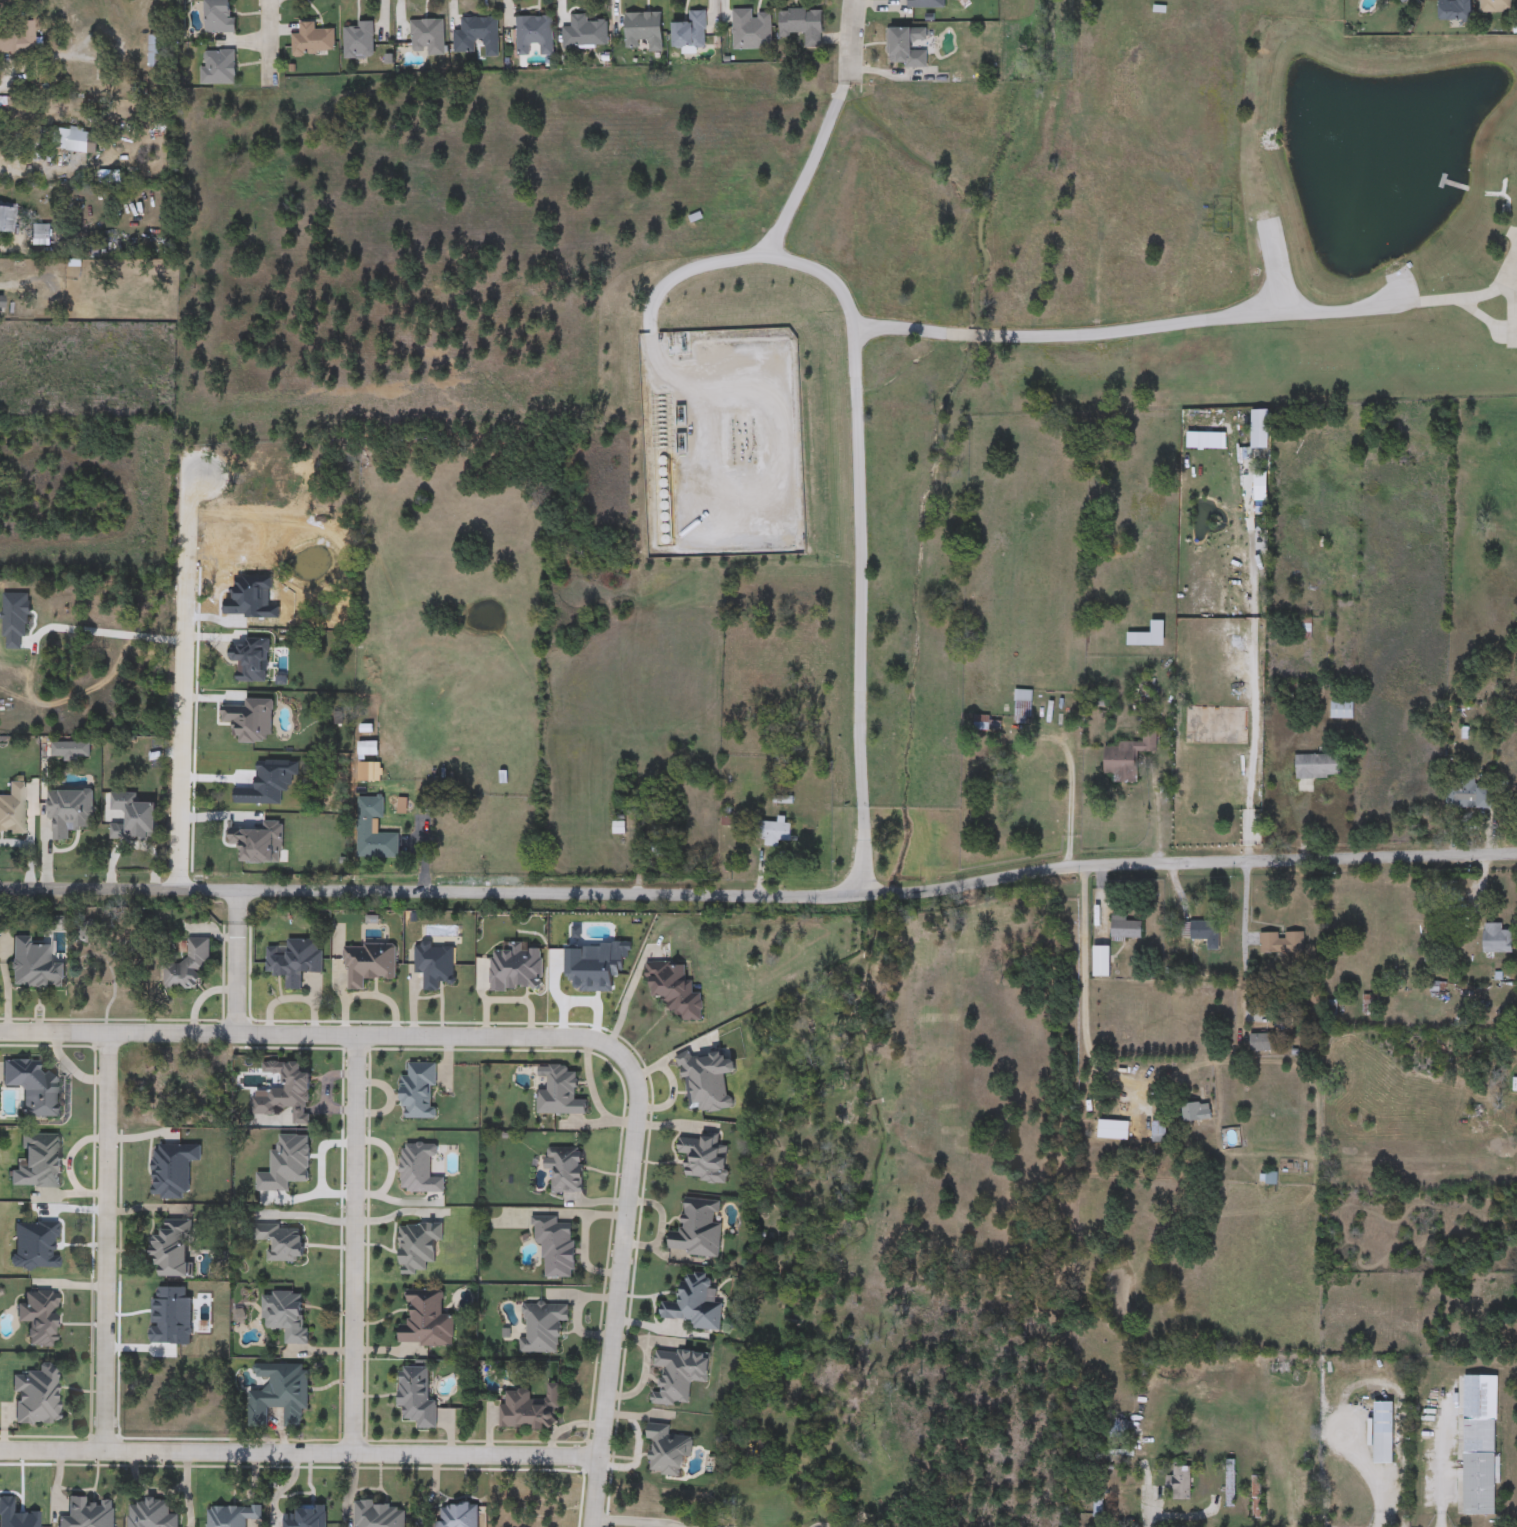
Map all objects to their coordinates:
building: (1403, 1)
building: (926, 3)
building: (1496, 6)
building: (1456, 10)
building: (219, 16)
building: (802, 25)
building: (752, 30)
building: (644, 31)
building: (691, 32)
building: (585, 33)
road: (273, 34)
building: (478, 36)
building: (534, 36)
road: (849, 36)
building: (428, 37)
building: (18, 39)
building: (312, 40)
building: (358, 40)
building: (906, 46)
building: (219, 68)
road: (5, 77)
building: (74, 141)
road: (22, 172)
building: (6, 218)
building: (40, 234)
road: (10, 246)
road: (659, 290)
building: (1, 303)
road: (1296, 315)
road: (905, 332)
road: (973, 336)
building: (683, 354)
road: (852, 452)
building: (1501, 535)
building: (1303, 628)
road: (113, 632)
road: (1245, 674)
road: (186, 681)
building: (1342, 711)
building: (1023, 712)
building: (987, 723)
building: (368, 749)
building: (1127, 755)
building: (1509, 764)
building: (1318, 766)
building: (238, 773)
building: (1032, 773)
building: (1470, 795)
road: (1068, 796)
building: (443, 823)
building: (774, 832)
building: (372, 841)
road: (759, 895)
road: (237, 905)
building: (1126, 929)
building: (1202, 933)
road: (1248, 937)
building: (1497, 939)
building: (1281, 945)
building: (1102, 962)
building: (369, 964)
building: (188, 966)
road: (237, 978)
road: (1083, 987)
building: (674, 991)
road: (310, 1037)
building: (1263, 1042)
building: (32, 1087)
building: (419, 1091)
building: (286, 1093)
road: (595, 1094)
building: (1196, 1112)
building: (1113, 1130)
building: (1159, 1131)
building: (704, 1158)
building: (419, 1169)
building: (566, 1170)
road: (308, 1215)
building: (698, 1229)
building: (280, 1243)
road: (109, 1244)
building: (556, 1245)
building: (418, 1246)
road: (354, 1247)
building: (171, 1250)
road: (618, 1287)
building: (694, 1305)
building: (285, 1315)
building: (425, 1320)
building: (543, 1328)
building: (1283, 1368)
building: (679, 1375)
building: (279, 1394)
building: (37, 1396)
building: (416, 1398)
building: (527, 1410)
building: (1122, 1429)
building: (1383, 1434)
building: (1480, 1445)
building: (667, 1450)
road: (301, 1456)
road: (1443, 1460)
building: (1181, 1484)
building: (1230, 1484)
building: (1257, 1498)
building: (1098, 1502)
building: (380, 1515)
building: (457, 1516)
road: (1184, 1516)
building: (306, 1517)
road: (637, 1523)

